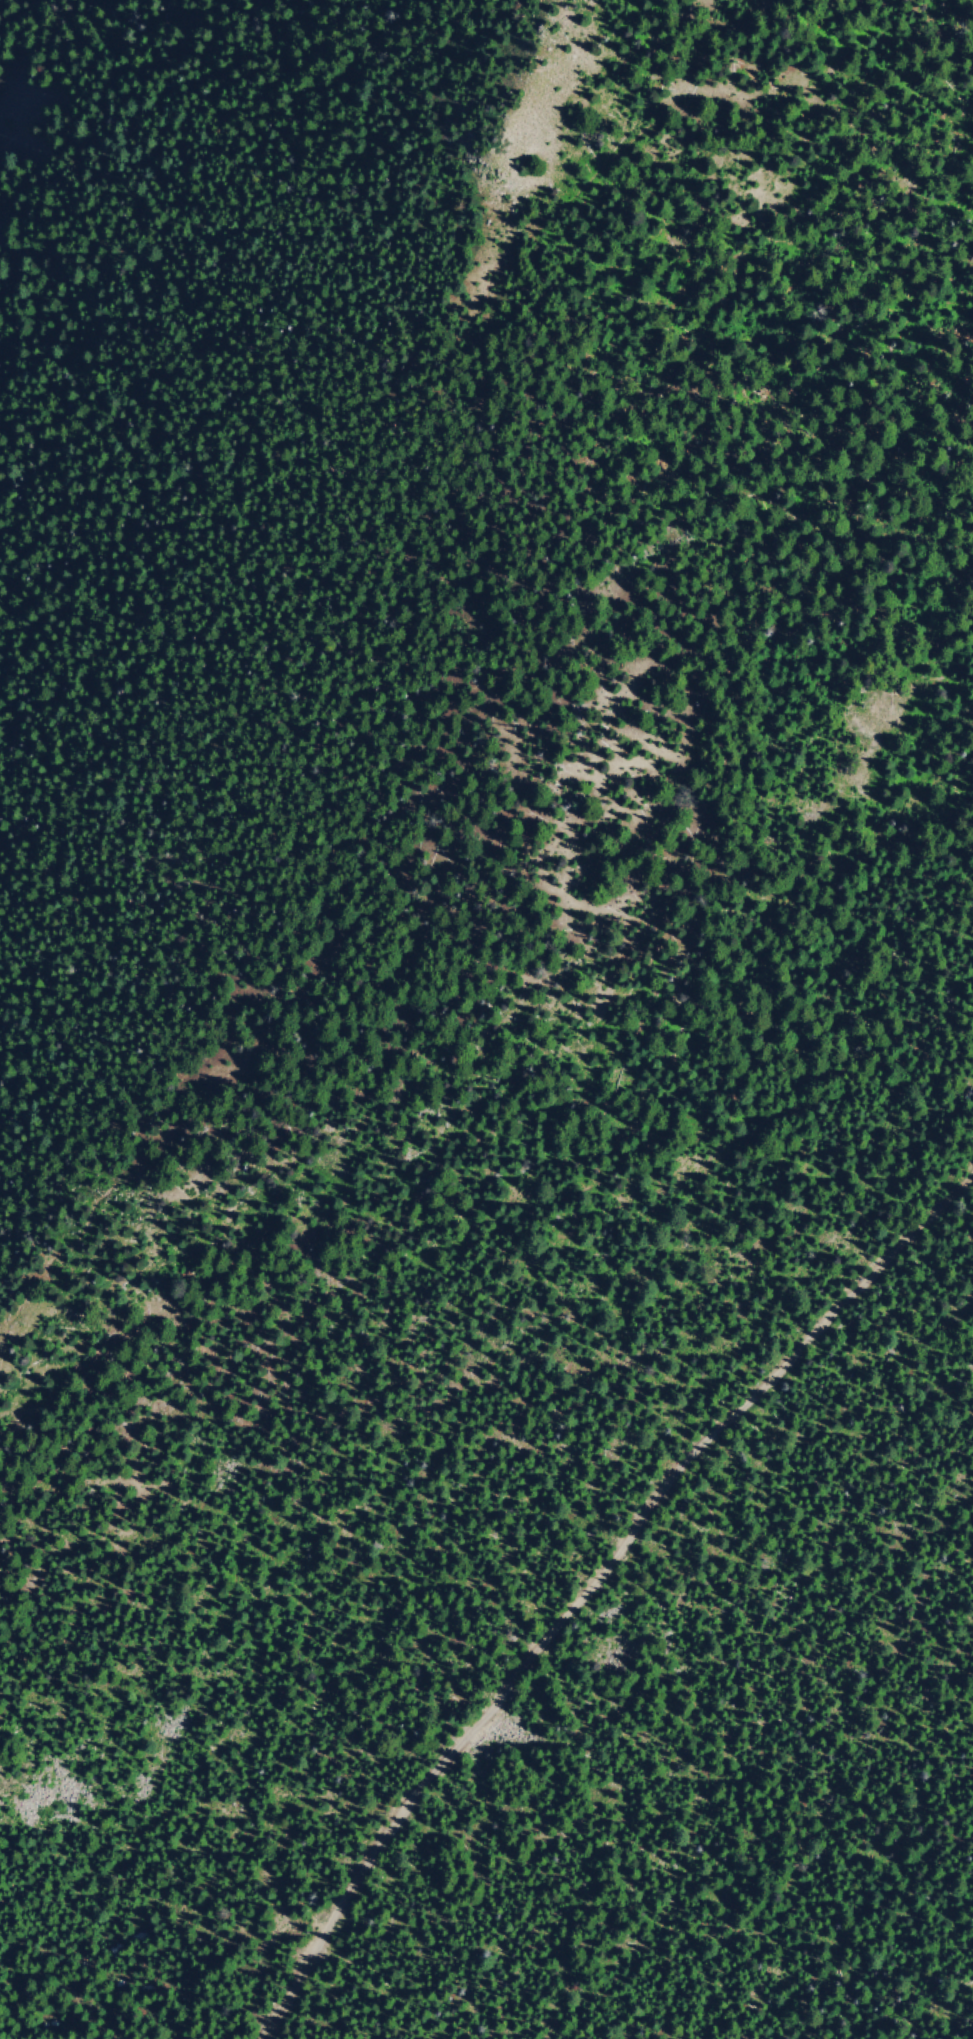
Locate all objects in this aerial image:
road: (445, 691)
road: (588, 1574)

